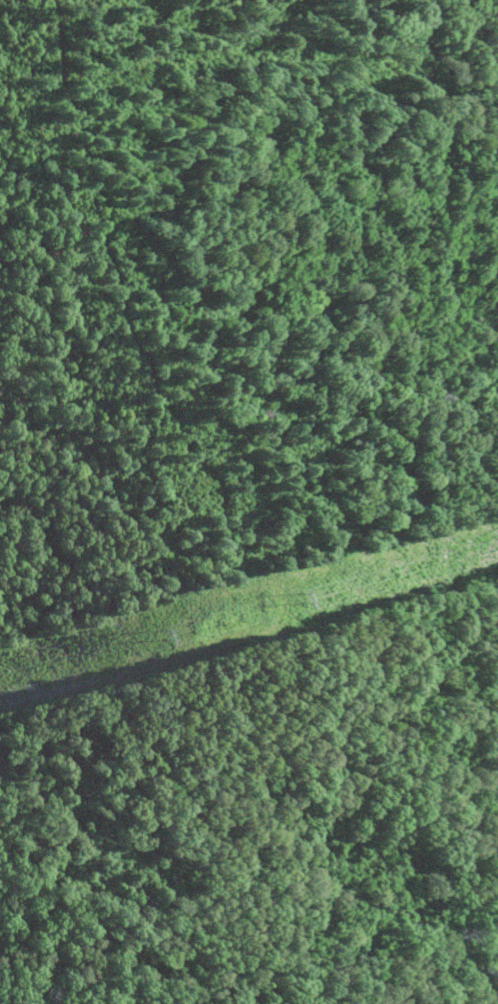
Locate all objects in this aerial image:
power tower: (298, 600)
power tower: (158, 639)

